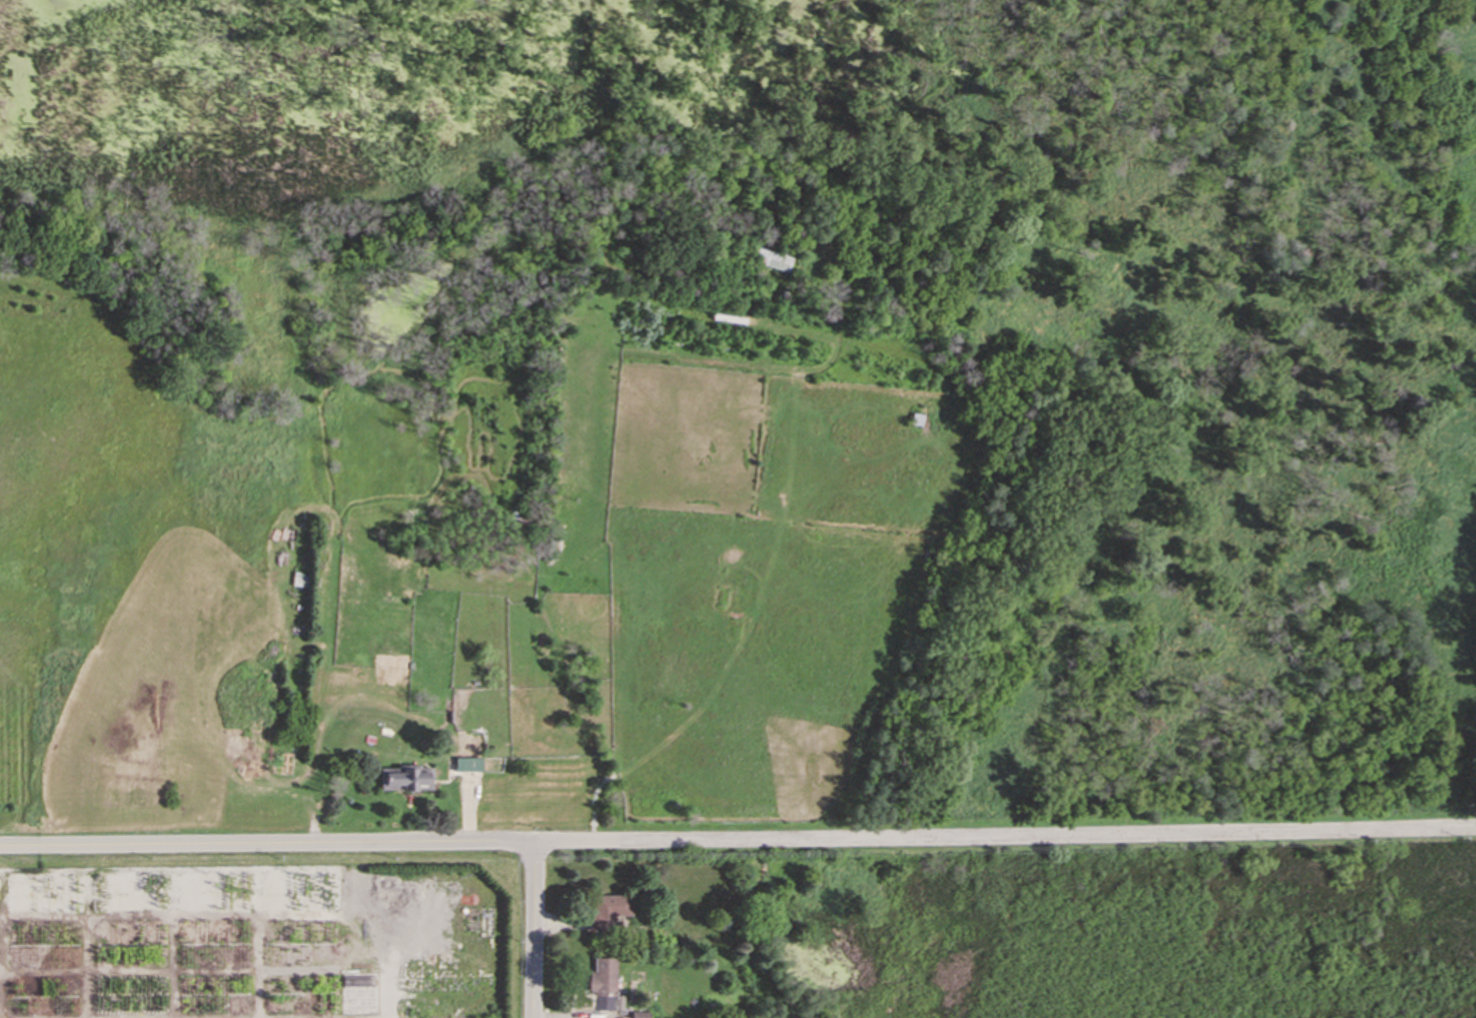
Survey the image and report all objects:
building: (771, 259)
building: (467, 763)
building: (404, 777)
road: (738, 841)
building: (606, 911)
road: (534, 930)
building: (601, 976)
building: (639, 1014)

